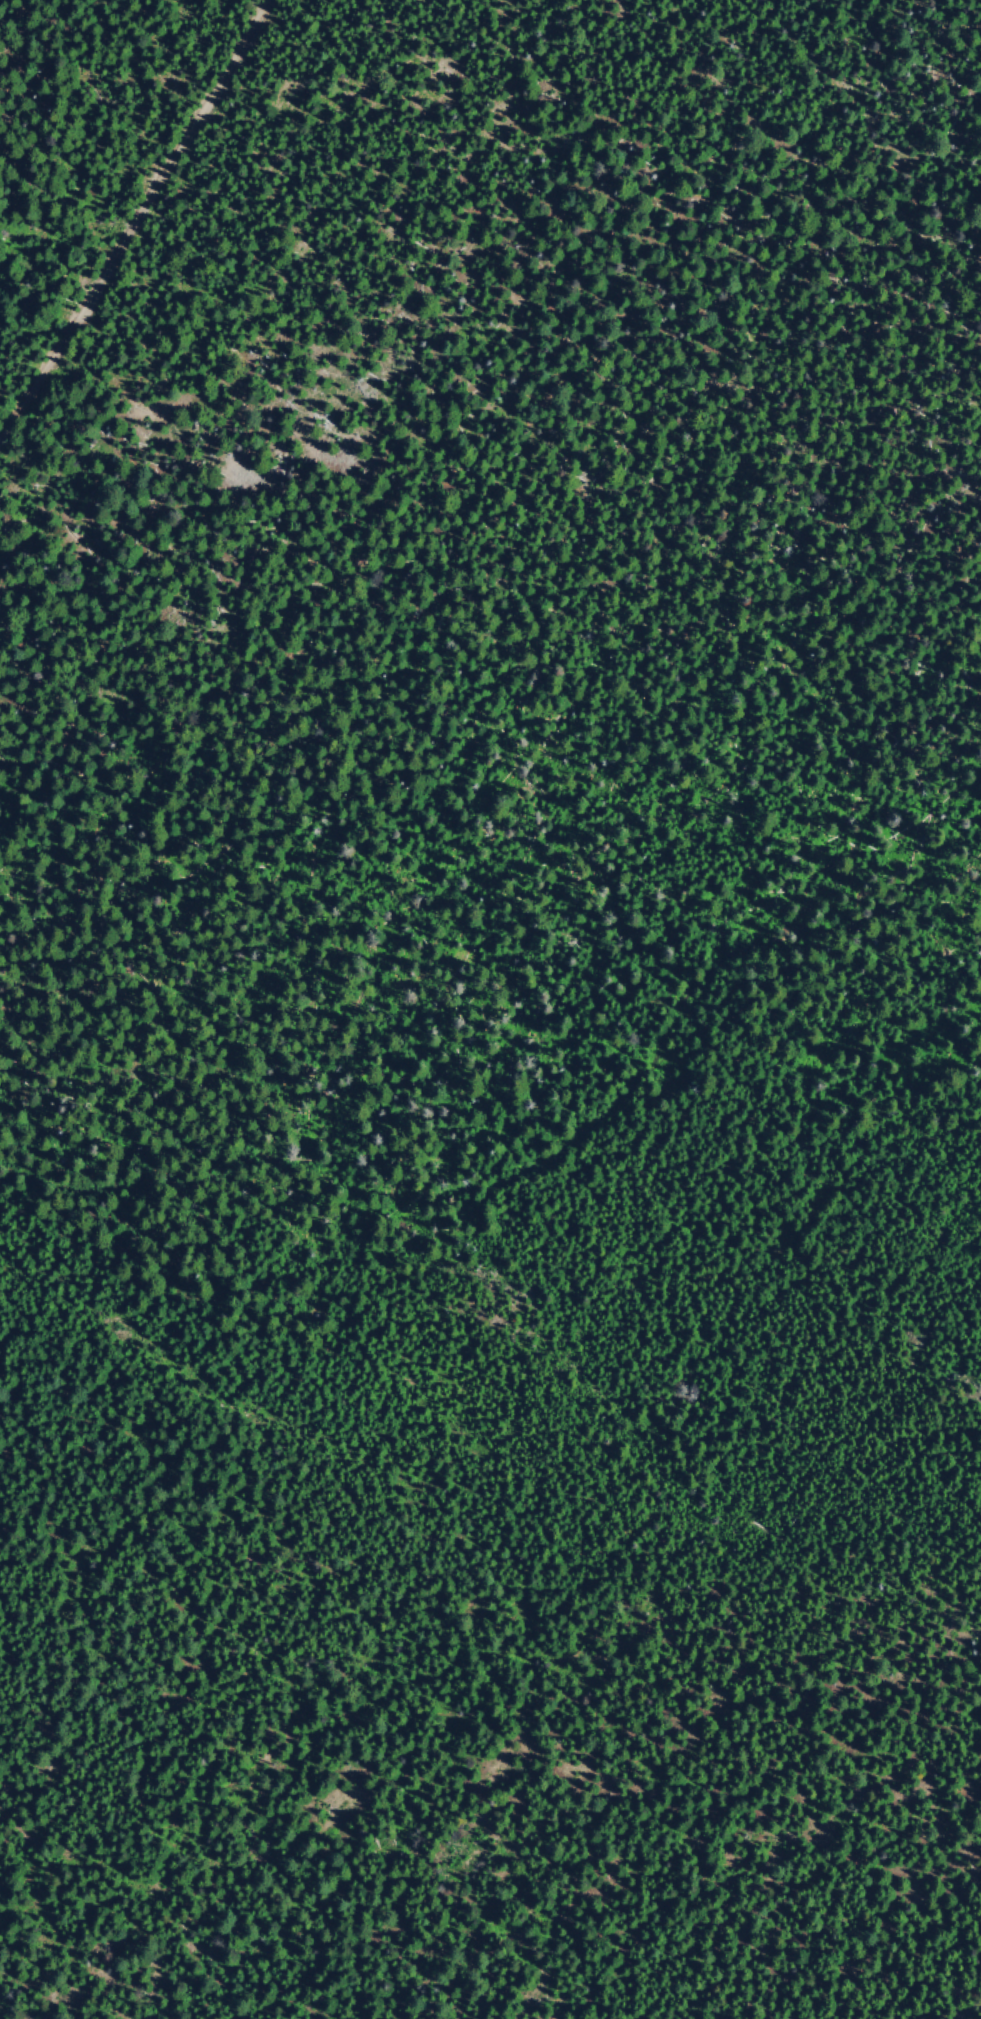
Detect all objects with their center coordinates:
road: (135, 210)
road: (468, 1714)

